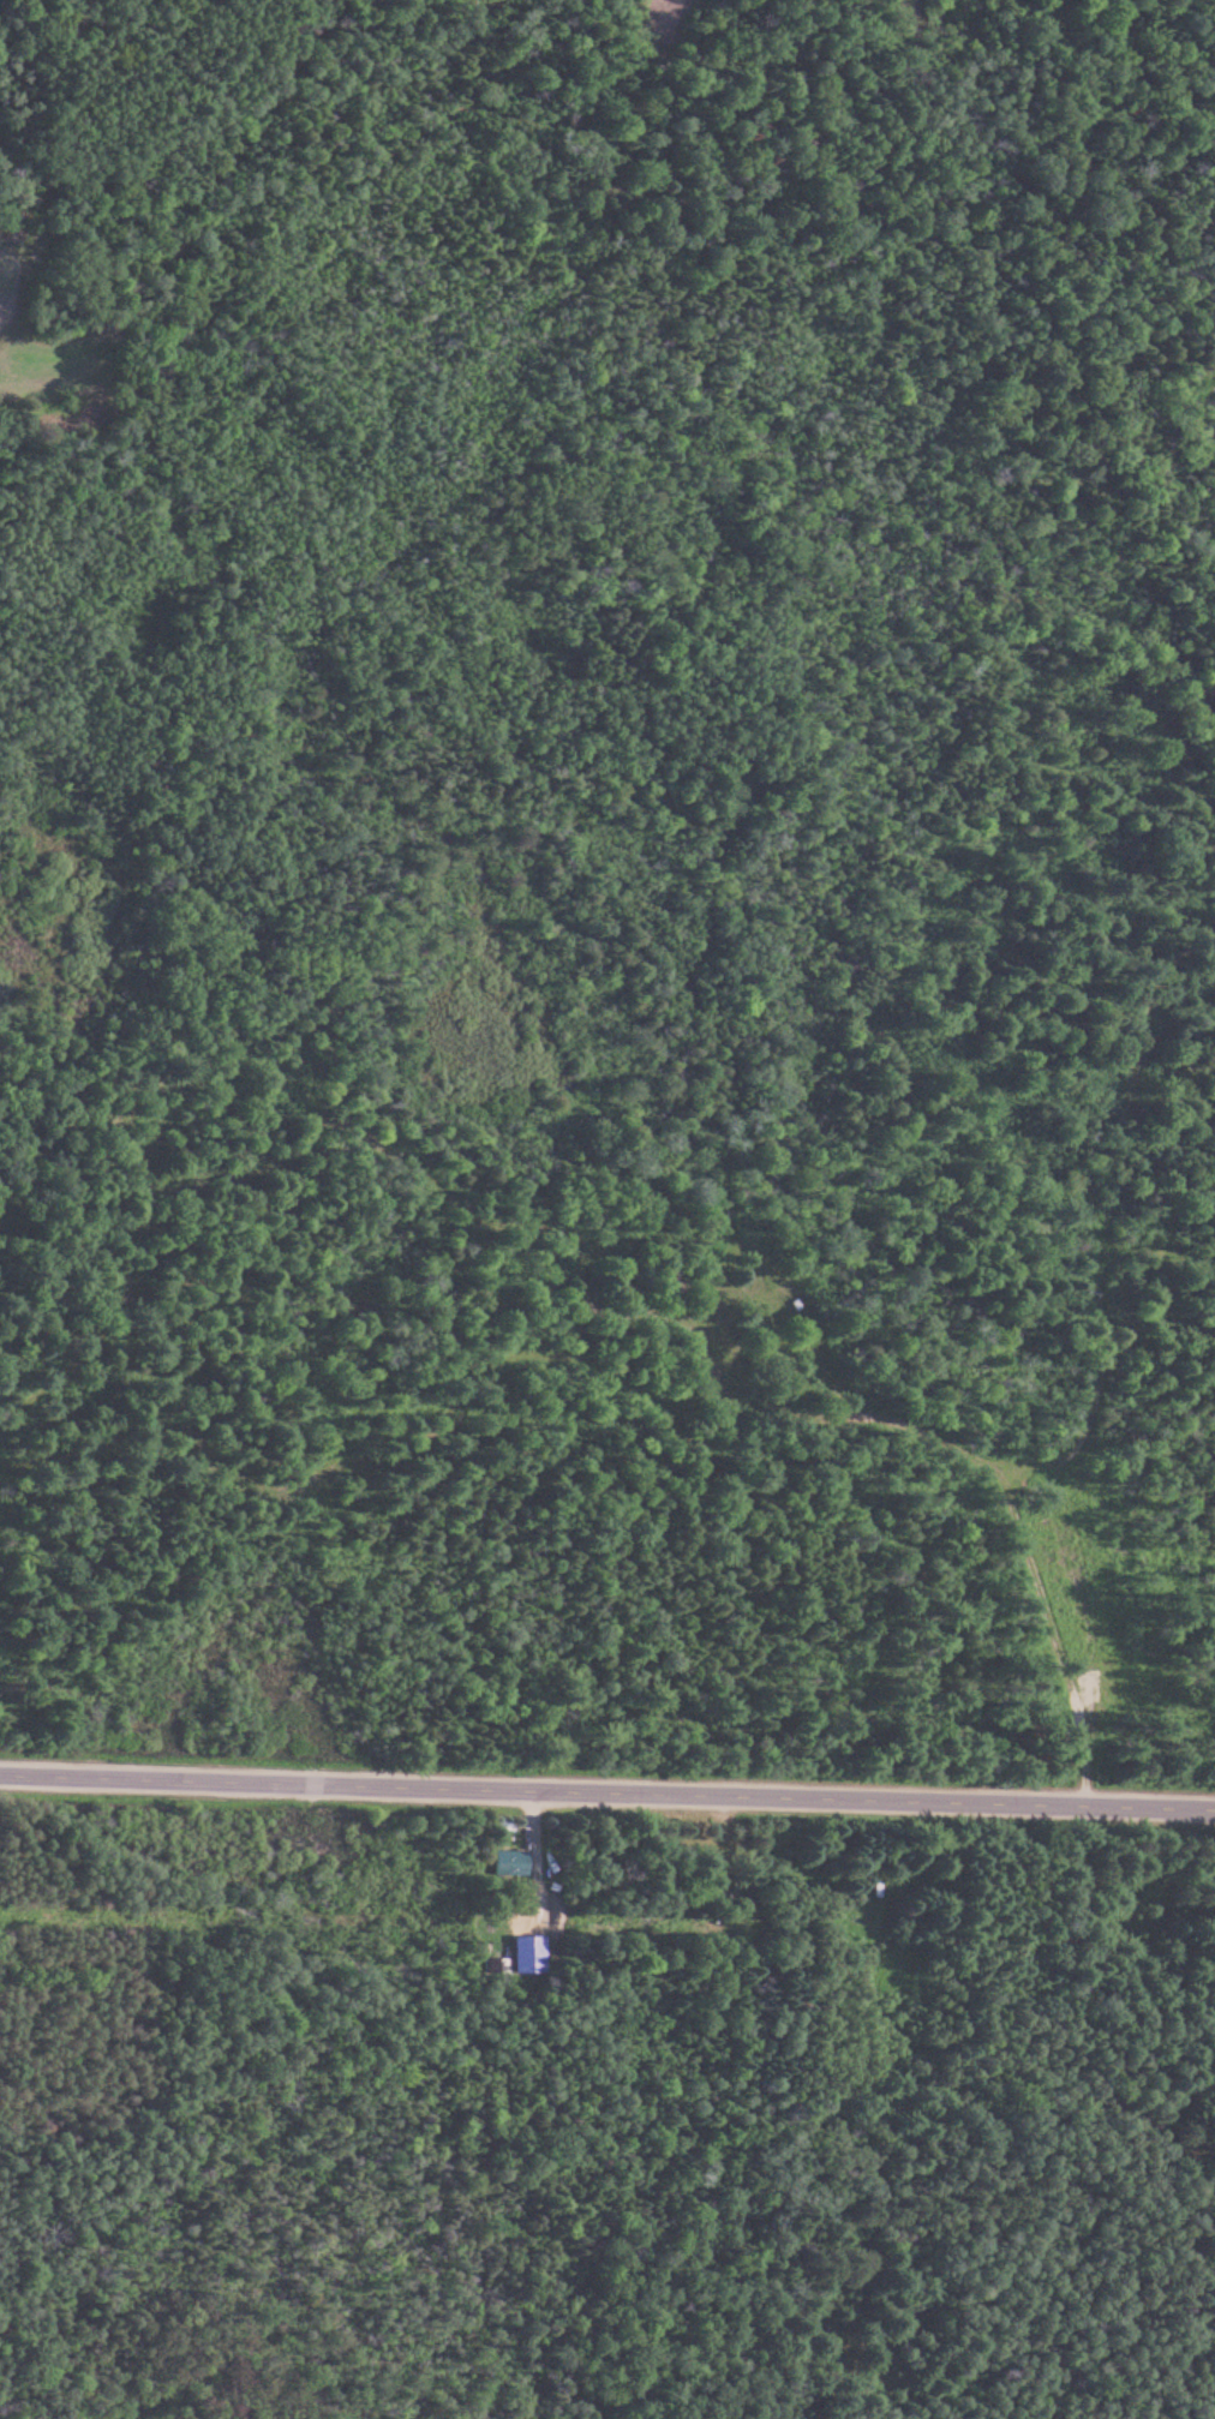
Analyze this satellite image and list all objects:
road: (607, 1789)
building: (513, 1863)

